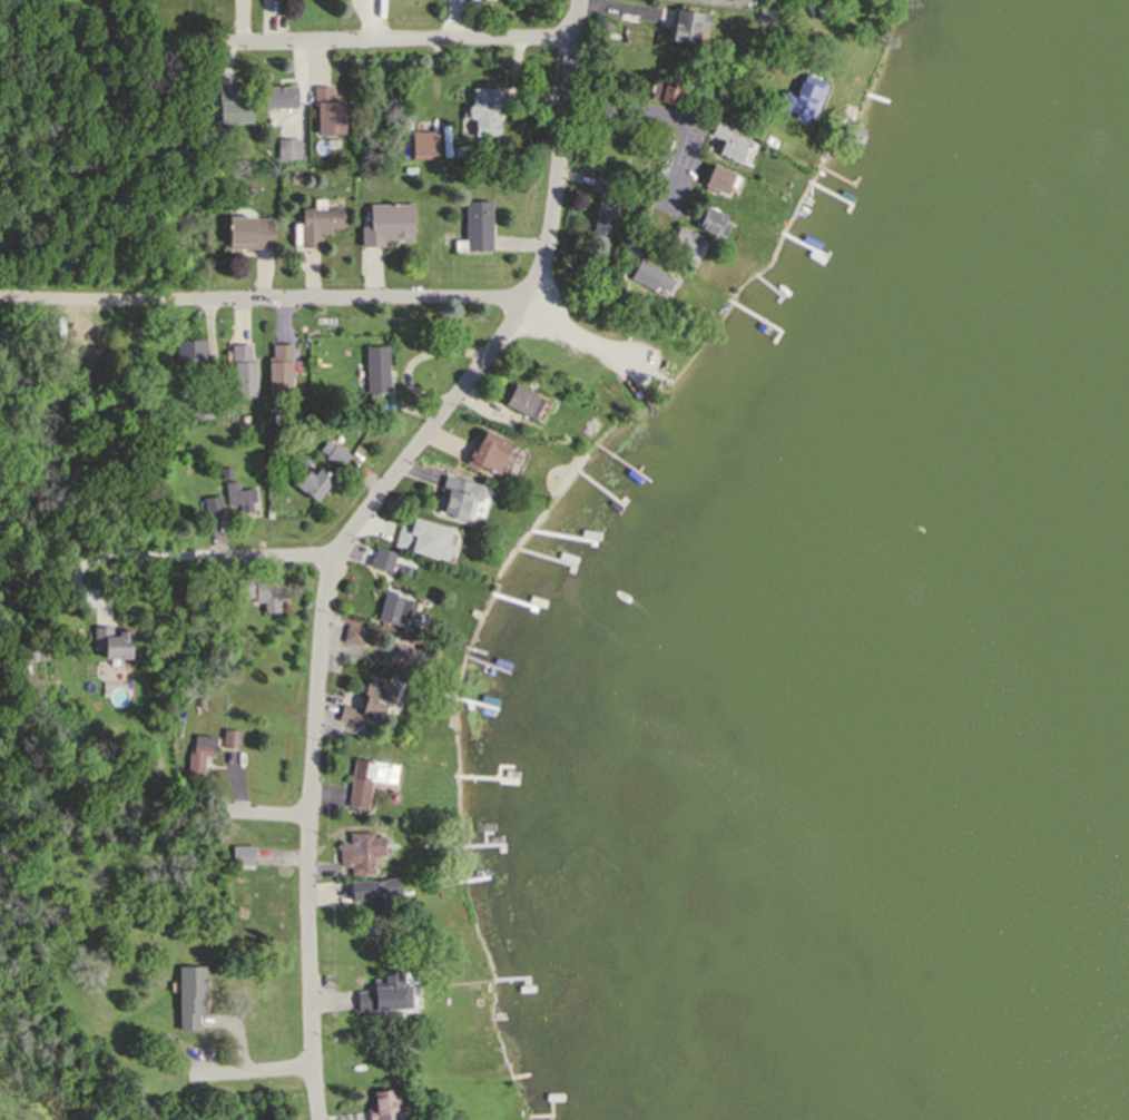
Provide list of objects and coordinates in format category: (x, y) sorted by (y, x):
building: (745, 1)
building: (766, 14)
building: (689, 24)
road: (403, 43)
building: (666, 89)
building: (281, 97)
building: (802, 98)
building: (232, 106)
building: (483, 108)
building: (327, 111)
road: (661, 121)
building: (852, 134)
building: (725, 141)
building: (422, 145)
building: (286, 148)
building: (576, 156)
building: (291, 176)
building: (717, 178)
building: (602, 183)
building: (601, 215)
building: (711, 222)
building: (317, 224)
building: (384, 225)
building: (474, 227)
building: (248, 232)
building: (683, 242)
building: (626, 247)
building: (649, 276)
road: (345, 301)
building: (186, 353)
building: (240, 369)
building: (277, 370)
building: (374, 371)
building: (521, 401)
building: (199, 409)
building: (244, 419)
building: (586, 429)
building: (304, 432)
building: (333, 453)
building: (487, 453)
building: (223, 471)
building: (310, 481)
building: (238, 495)
building: (456, 495)
building: (210, 505)
road: (351, 531)
building: (426, 540)
building: (380, 558)
road: (244, 559)
building: (240, 586)
building: (266, 595)
building: (392, 609)
building: (355, 636)
building: (114, 643)
building: (408, 658)
building: (383, 697)
building: (363, 700)
building: (229, 739)
building: (196, 753)
building: (367, 778)
road: (254, 812)
building: (239, 853)
building: (365, 853)
building: (381, 891)
building: (189, 993)
building: (384, 993)
building: (144, 1034)
road: (264, 1072)
building: (382, 1104)

